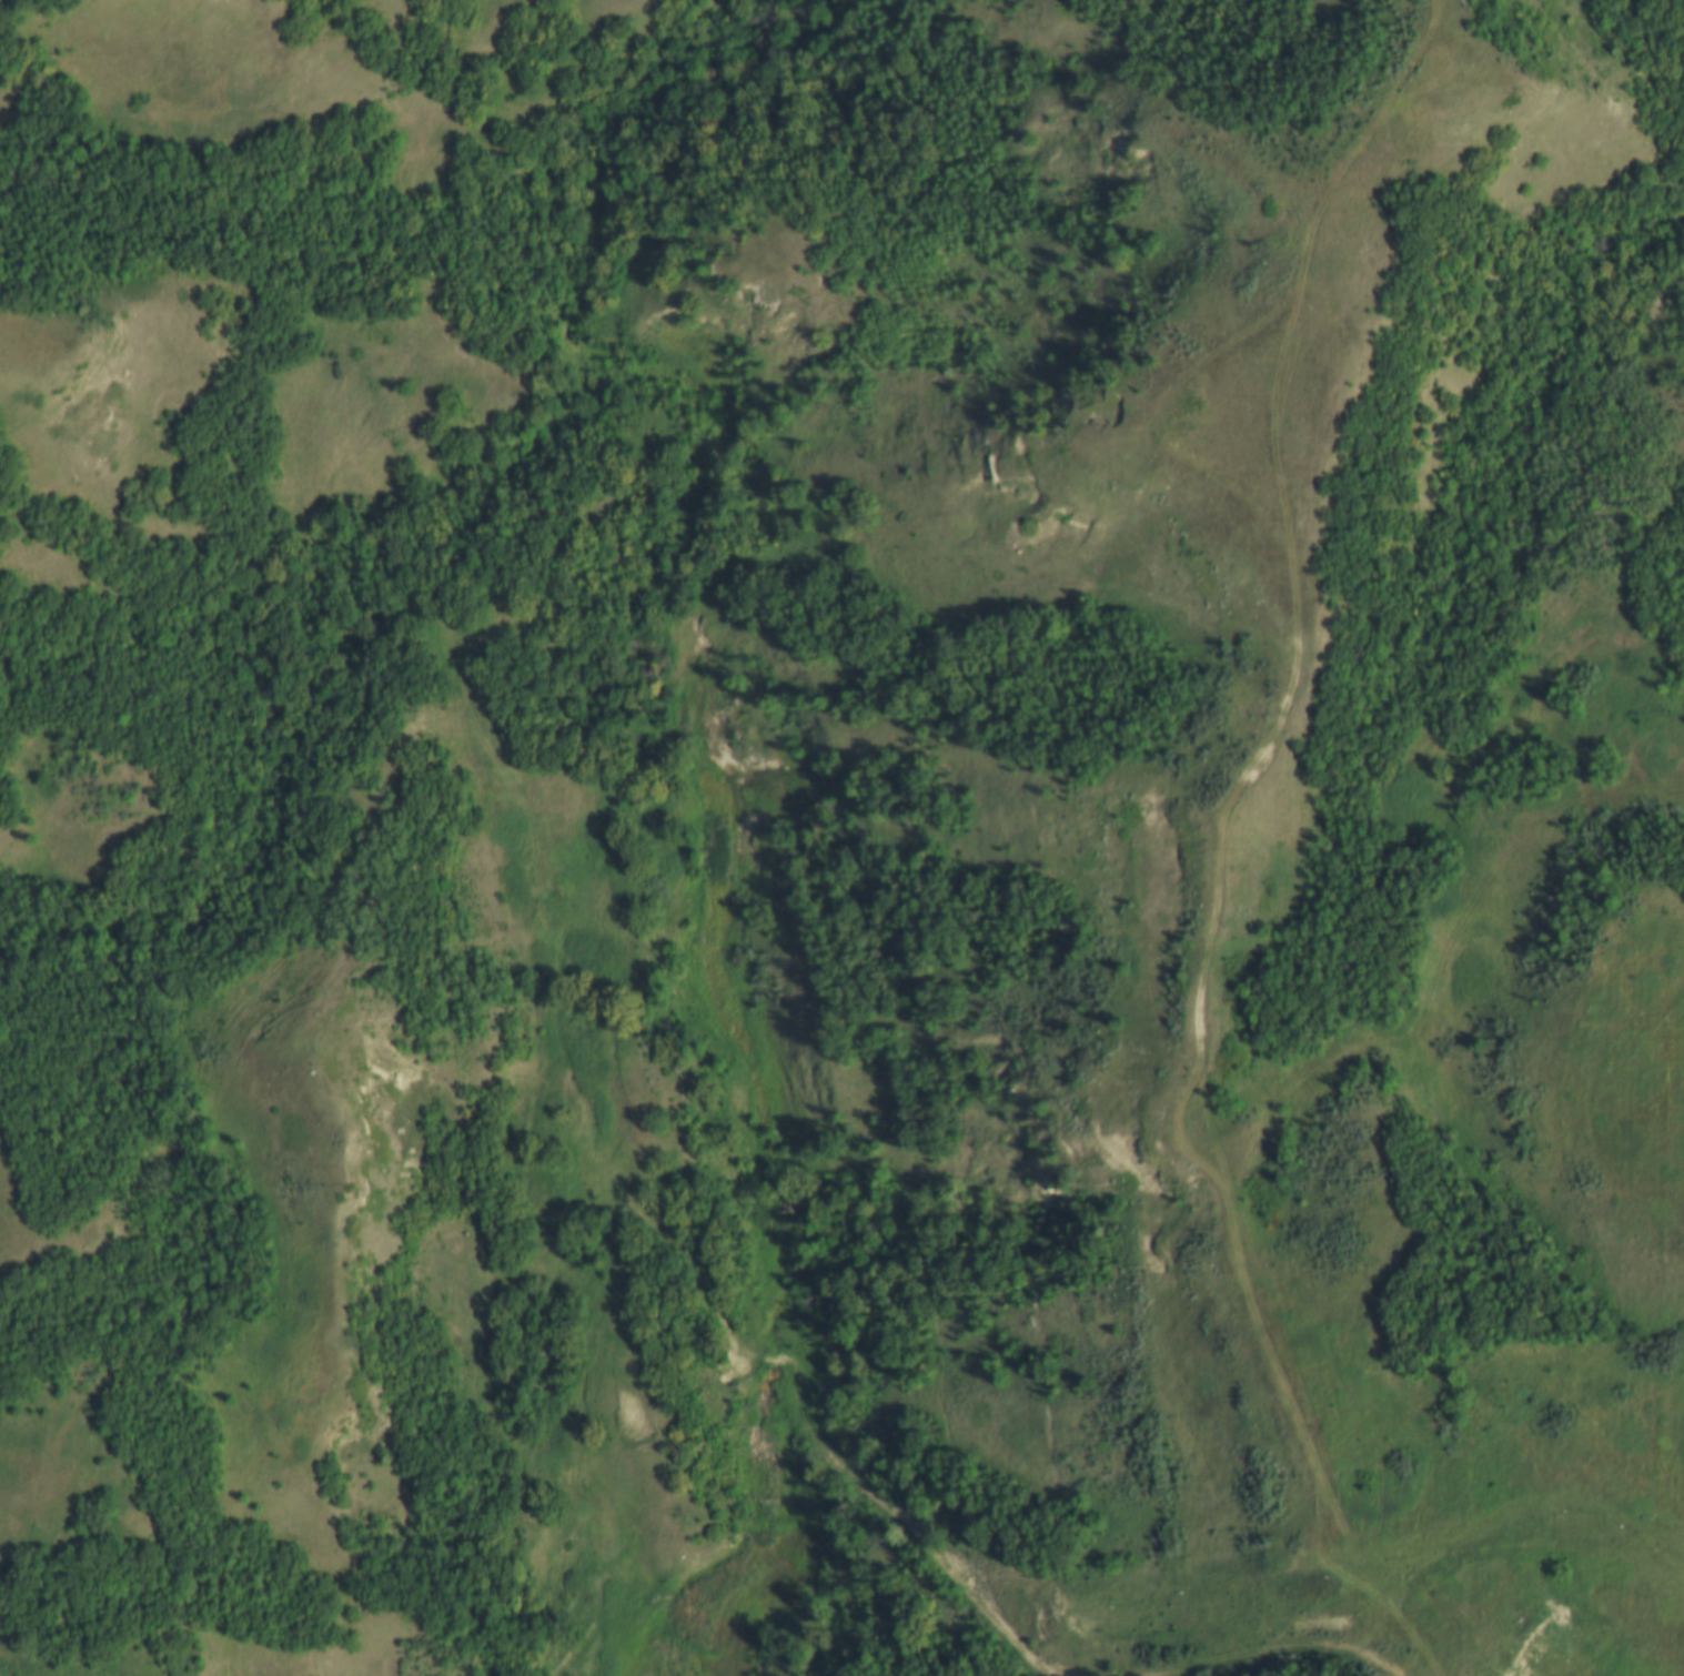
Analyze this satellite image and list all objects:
road: (1218, 848)

